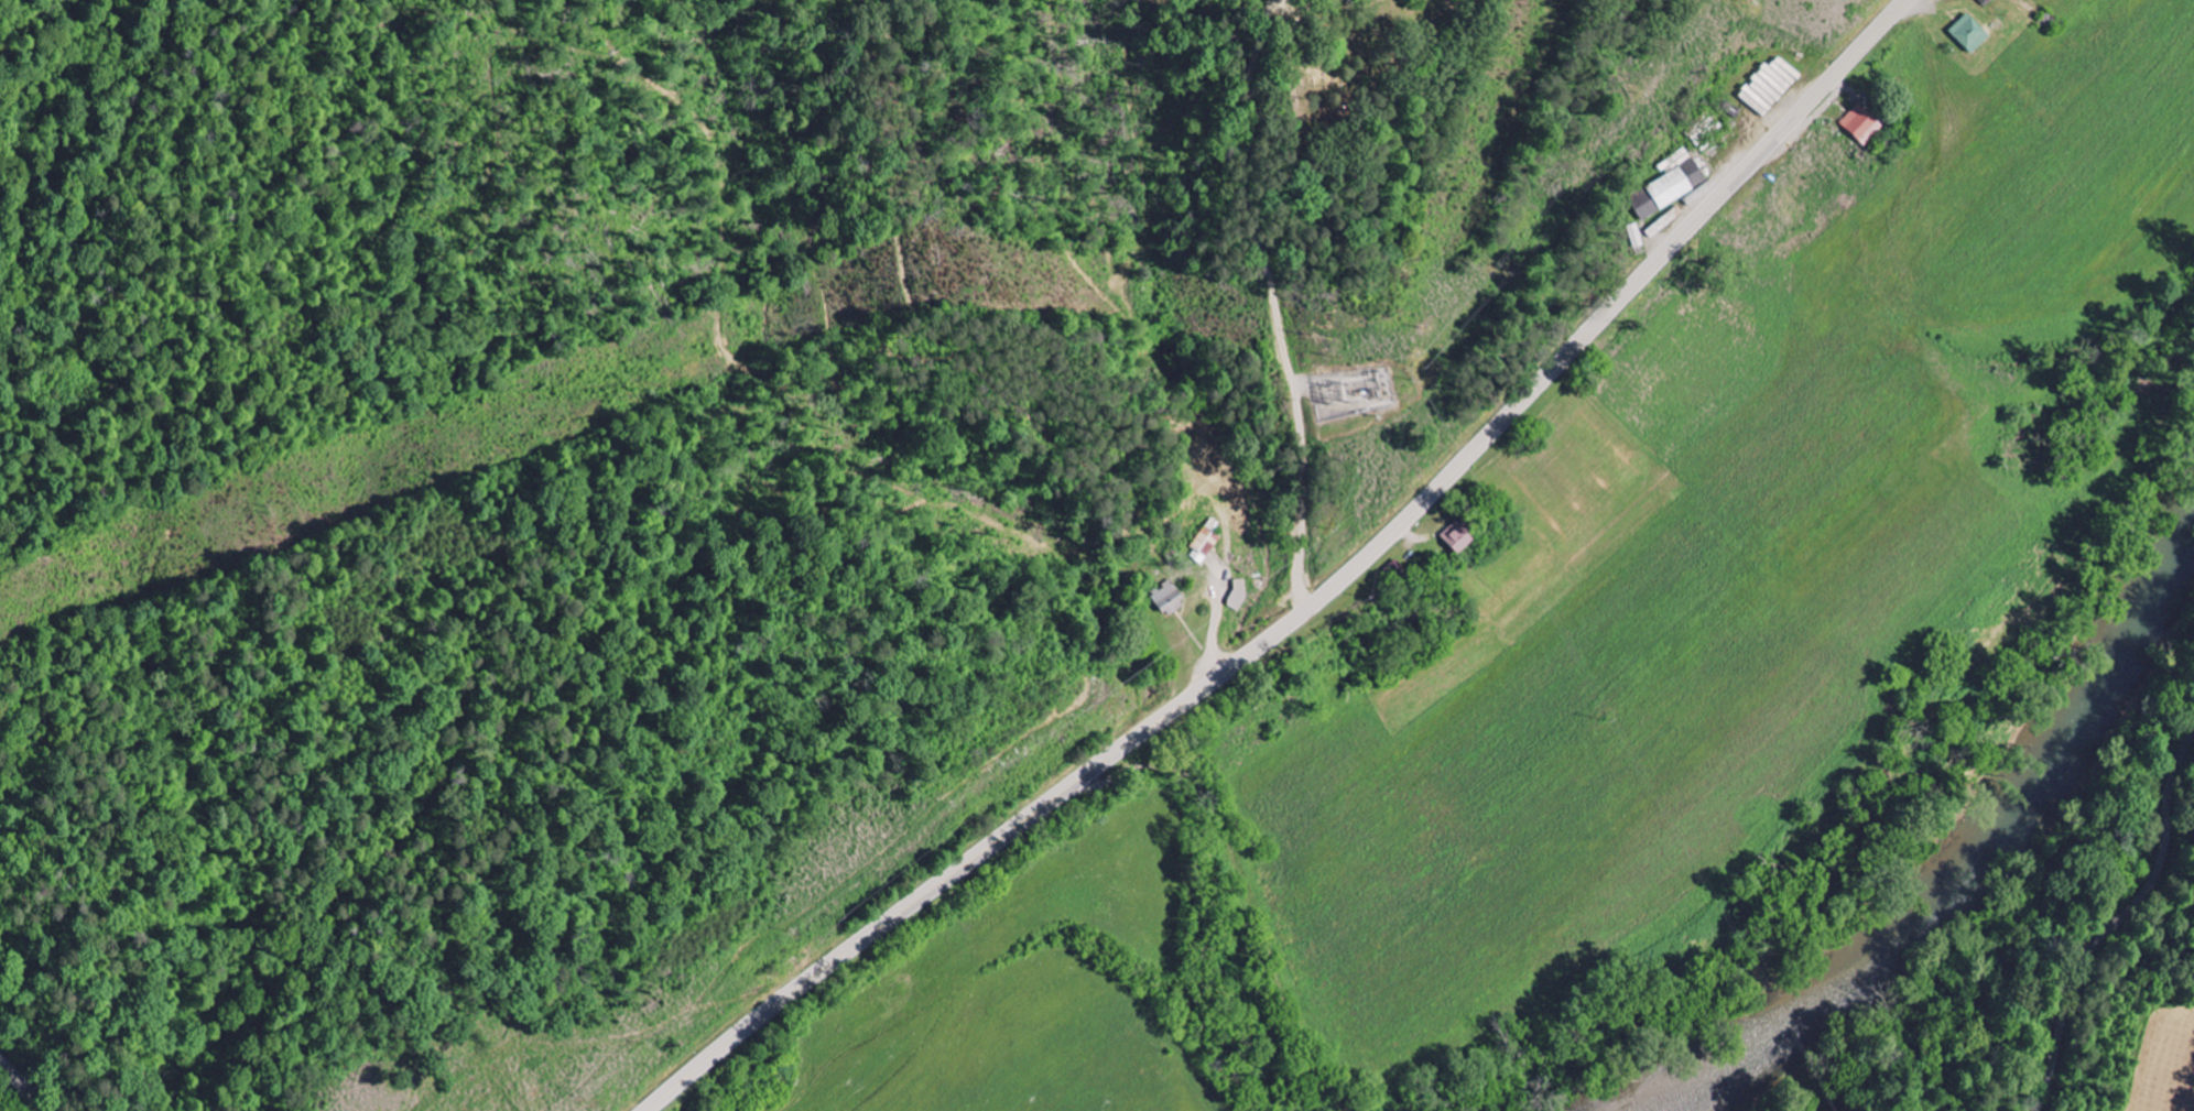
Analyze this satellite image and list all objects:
building: (1965, 34)
park: (1369, 66)
building: (1856, 124)
building: (1668, 188)
building: (1634, 235)
road: (1277, 304)
power substation: (1347, 389)
building: (1452, 538)
building: (1202, 546)
building: (1163, 599)
road: (1316, 600)
river: (1985, 872)
road: (2118, 921)
road: (25, 1086)

